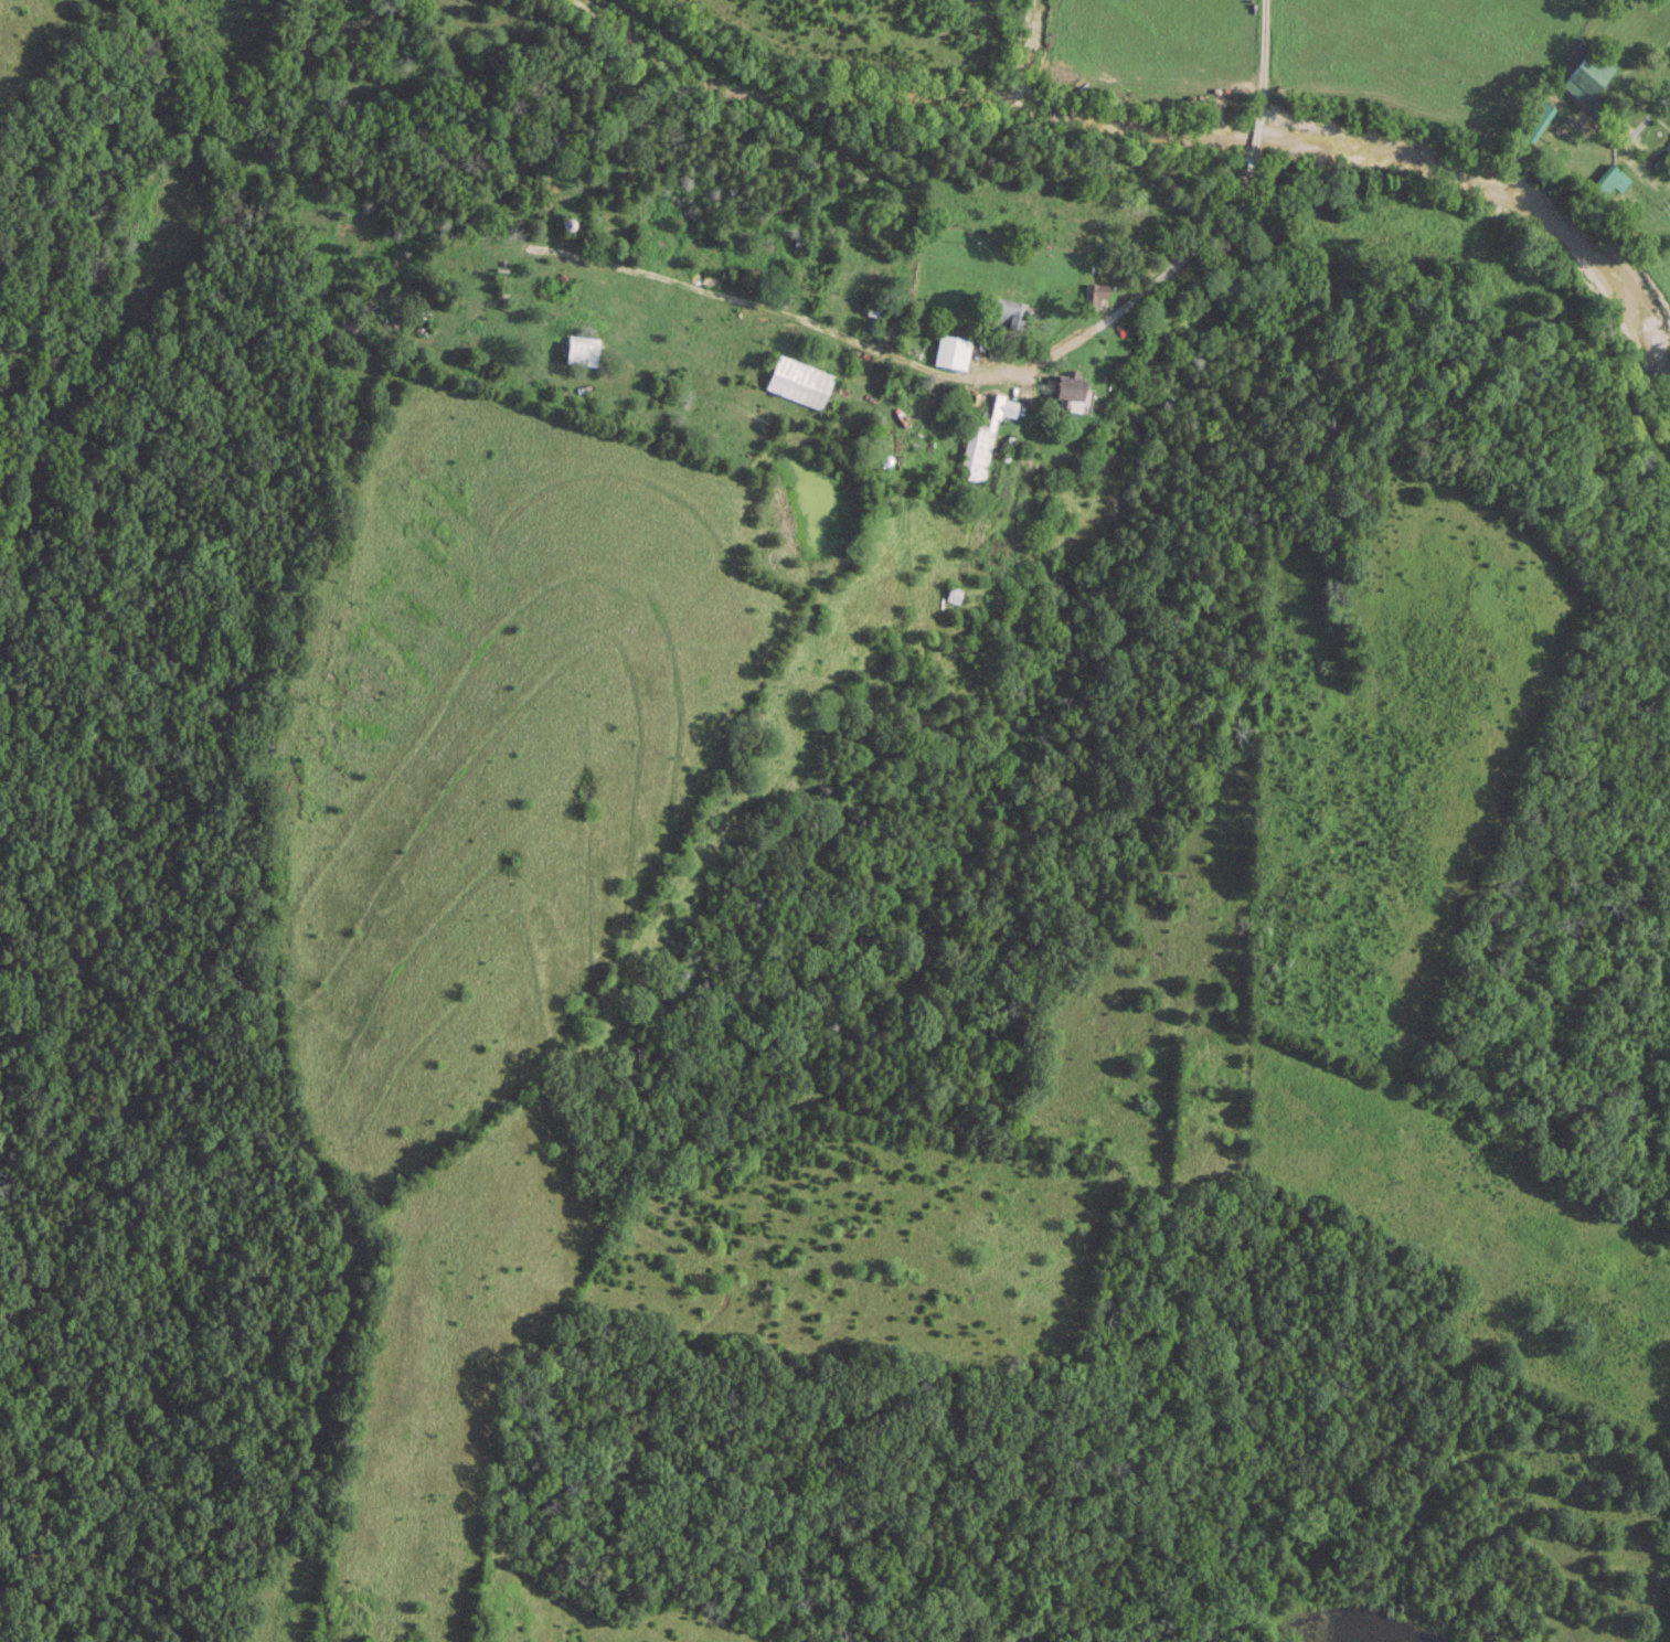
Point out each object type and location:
building: (1587, 81)
road: (1625, 143)
building: (1668, 149)
building: (1607, 182)
road: (1224, 238)
road: (684, 285)
building: (1089, 295)
building: (1002, 313)
building: (583, 349)
building: (948, 352)
building: (796, 382)
building: (1063, 388)
building: (981, 431)
building: (950, 594)

